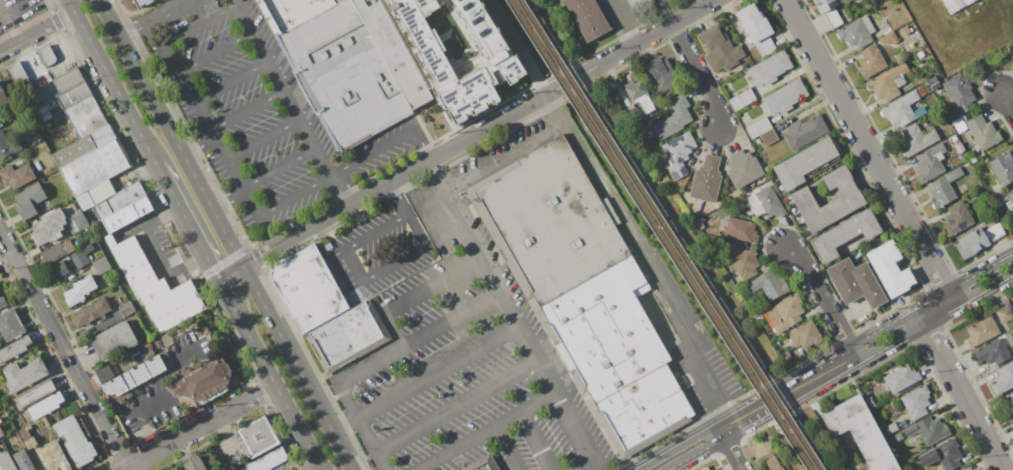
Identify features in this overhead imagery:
building: (257, 0)
road: (184, 1)
building: (846, 1)
building: (142, 3)
building: (955, 5)
building: (641, 6)
building: (829, 11)
road: (667, 12)
building: (497, 17)
building: (587, 17)
road: (154, 18)
road: (624, 22)
building: (754, 22)
road: (199, 27)
road: (36, 31)
park: (546, 32)
building: (857, 32)
building: (883, 32)
building: (888, 39)
road: (521, 46)
building: (765, 46)
building: (721, 50)
building: (457, 53)
road: (214, 54)
building: (921, 54)
building: (1011, 55)
building: (46, 56)
building: (512, 58)
building: (871, 61)
building: (348, 64)
building: (770, 68)
road: (46, 73)
building: (662, 74)
road: (700, 75)
road: (181, 76)
building: (19, 78)
road: (112, 83)
road: (231, 83)
building: (933, 83)
building: (887, 84)
building: (56, 86)
building: (923, 91)
building: (637, 92)
building: (959, 92)
building: (74, 95)
building: (3, 97)
building: (786, 97)
building: (742, 99)
road: (1007, 102)
road: (288, 104)
building: (900, 108)
road: (248, 112)
parking lot: (257, 112)
building: (919, 112)
building: (85, 116)
building: (637, 117)
building: (673, 118)
building: (1, 123)
building: (959, 125)
building: (758, 127)
building: (805, 131)
road: (171, 132)
road: (479, 132)
building: (983, 132)
building: (101, 135)
building: (769, 137)
building: (952, 138)
building: (916, 139)
road: (264, 141)
road: (869, 145)
building: (6, 146)
road: (386, 146)
building: (959, 148)
building: (73, 150)
road: (504, 154)
building: (678, 154)
building: (973, 159)
road: (229, 160)
building: (804, 163)
building: (930, 163)
building: (95, 166)
building: (1003, 168)
building: (743, 169)
building: (954, 174)
building: (17, 176)
building: (707, 180)
building: (942, 192)
building: (1010, 194)
building: (95, 195)
road: (398, 198)
building: (753, 199)
building: (849, 199)
building: (29, 200)
building: (118, 201)
road: (433, 201)
road: (253, 202)
building: (770, 202)
building: (758, 209)
road: (182, 210)
building: (127, 214)
building: (958, 217)
building: (79, 220)
building: (556, 220)
building: (48, 227)
road: (676, 227)
building: (741, 230)
park: (674, 233)
building: (994, 233)
road: (450, 234)
building: (845, 234)
railway: (657, 235)
railway: (667, 235)
building: (971, 243)
building: (87, 249)
road: (155, 250)
building: (56, 251)
road: (647, 255)
building: (79, 258)
building: (743, 260)
building: (101, 265)
road: (214, 268)
building: (890, 268)
building: (57, 270)
road: (232, 273)
road: (361, 280)
building: (855, 282)
building: (772, 284)
building: (154, 287)
building: (308, 288)
building: (79, 290)
road: (421, 293)
road: (824, 297)
building: (2, 301)
road: (931, 302)
road: (936, 307)
building: (126, 308)
building: (90, 313)
building: (784, 313)
road: (515, 314)
building: (1005, 314)
road: (934, 315)
building: (758, 316)
building: (11, 324)
building: (613, 327)
building: (982, 331)
building: (805, 335)
building: (347, 337)
road: (417, 337)
building: (1009, 337)
building: (113, 340)
building: (158, 342)
parking lot: (478, 345)
building: (147, 347)
building: (14, 349)
road: (63, 351)
building: (221, 352)
building: (992, 352)
building: (150, 353)
building: (164, 356)
road: (298, 367)
building: (184, 372)
road: (440, 373)
building: (24, 374)
building: (176, 375)
building: (135, 376)
road: (270, 376)
building: (901, 378)
building: (1003, 379)
road: (159, 382)
building: (204, 382)
building: (36, 392)
road: (788, 393)
building: (1012, 393)
road: (962, 395)
road: (189, 402)
building: (916, 402)
building: (45, 405)
road: (458, 405)
building: (650, 408)
building: (1007, 409)
building: (1012, 424)
road: (345, 425)
building: (28, 427)
road: (199, 427)
building: (891, 427)
road: (363, 429)
road: (489, 430)
building: (928, 430)
building: (861, 431)
building: (1, 432)
road: (145, 432)
building: (24, 434)
building: (258, 436)
building: (898, 437)
building: (75, 440)
road: (535, 441)
park: (805, 442)
building: (29, 443)
road: (679, 447)
road: (507, 448)
road: (730, 449)
road: (691, 451)
building: (942, 455)
building: (54, 457)
building: (23, 460)
building: (266, 460)
building: (6, 462)
building: (774, 463)
building: (194, 464)
building: (482, 464)
parking lot: (283, 466)
building: (705, 468)
building: (173, 469)

